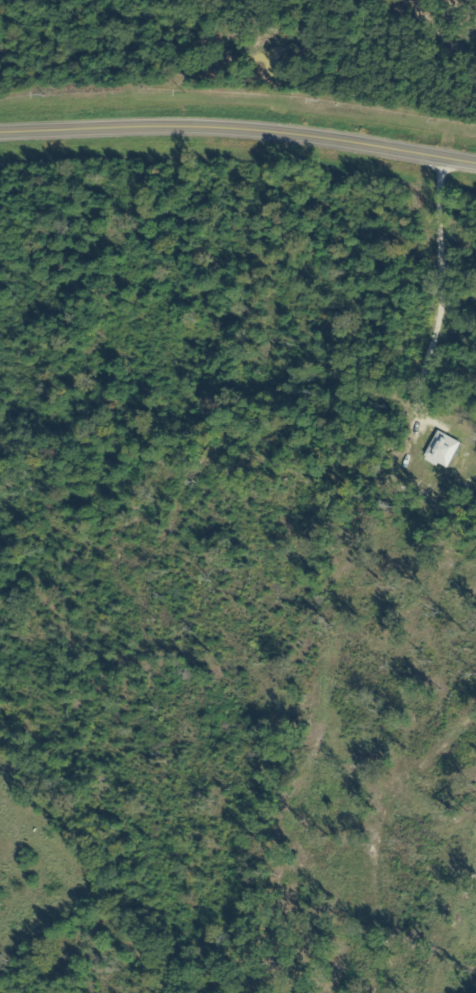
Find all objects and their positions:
road: (340, 18)
road: (239, 130)

